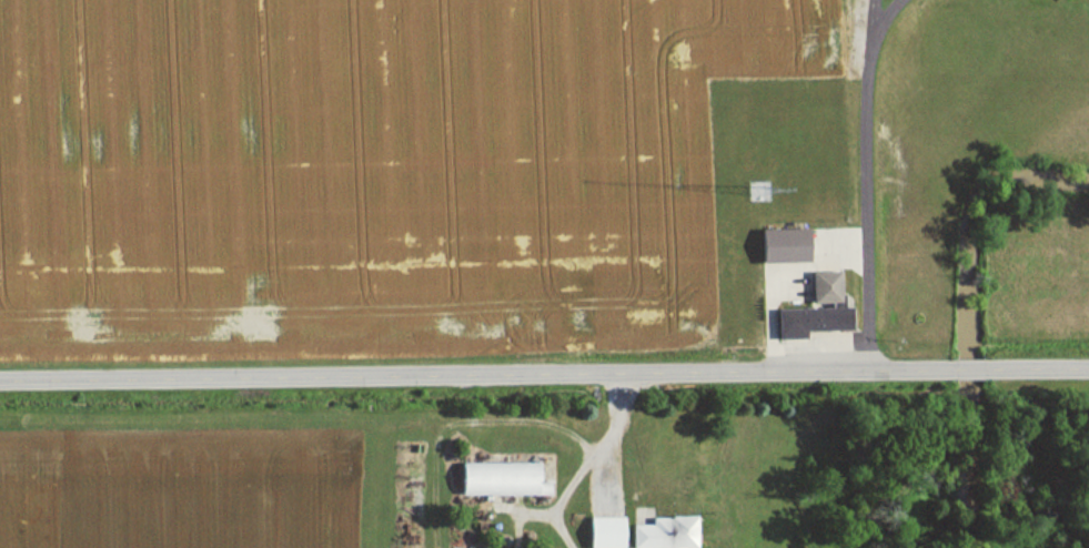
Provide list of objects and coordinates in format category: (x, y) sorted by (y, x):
crop: (367, 171)
road: (866, 182)
building: (777, 246)
building: (820, 290)
building: (805, 322)
road: (544, 380)
building: (495, 478)
crop: (188, 484)
building: (599, 531)
building: (659, 532)

